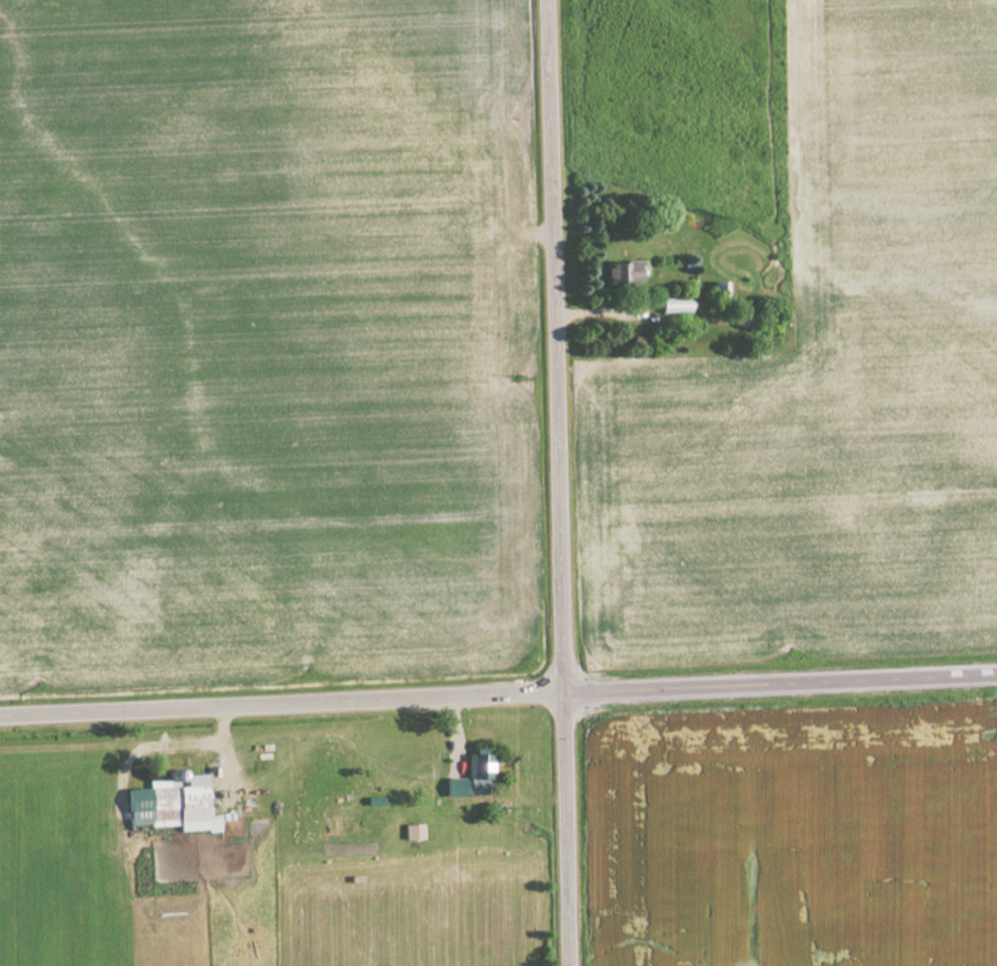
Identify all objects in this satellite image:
building: (621, 274)
building: (718, 290)
building: (673, 304)
building: (743, 319)
road: (560, 483)
road: (498, 701)
building: (470, 777)
building: (181, 802)
building: (412, 831)

